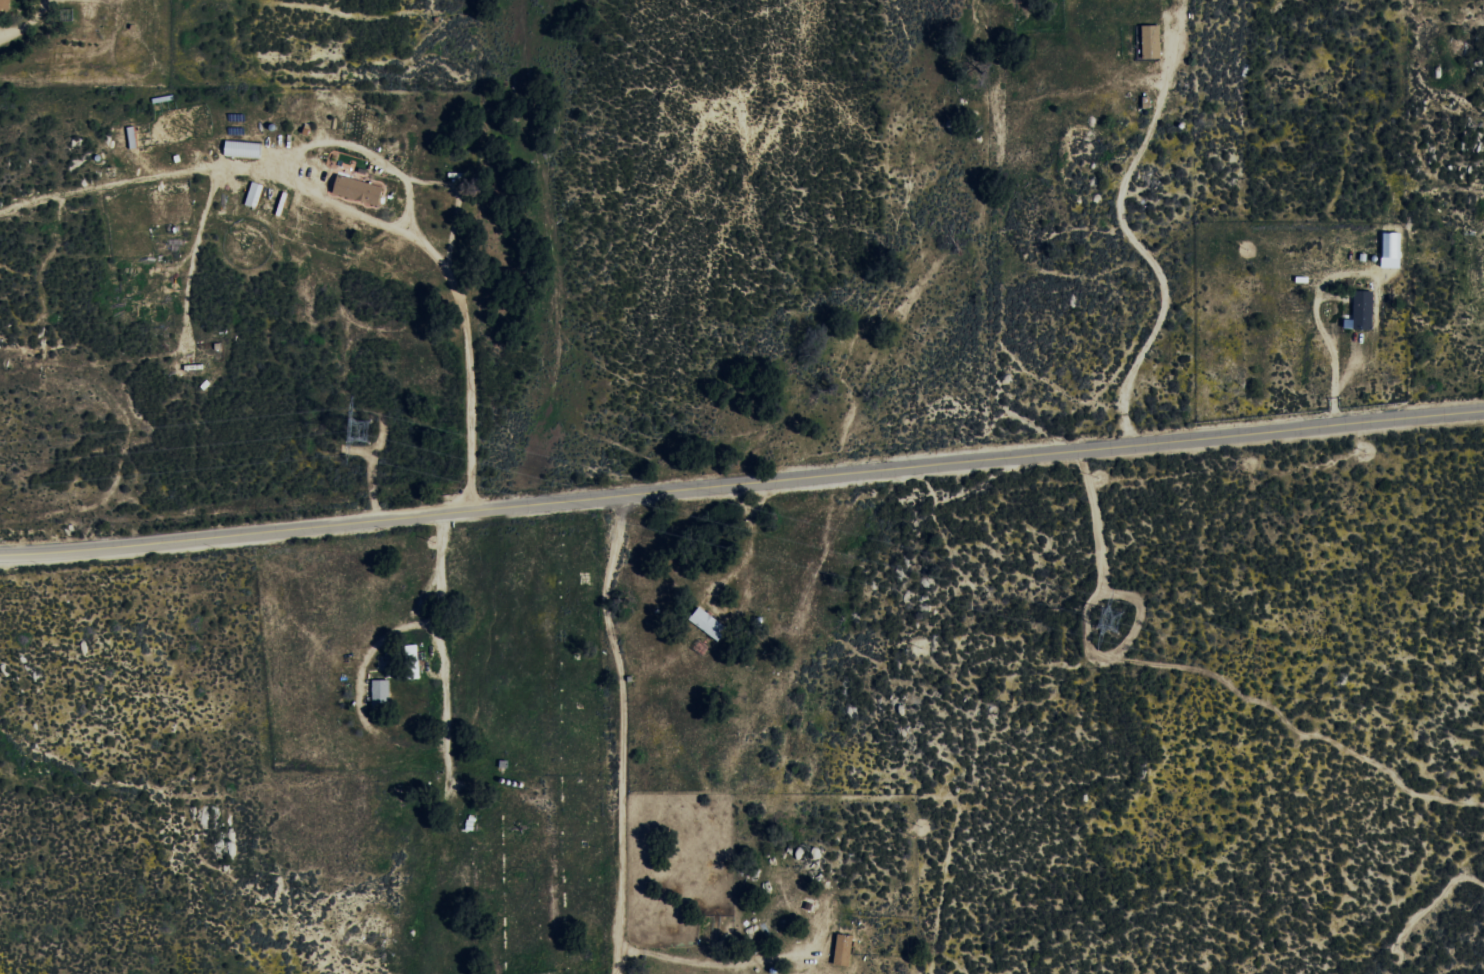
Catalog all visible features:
building: (2, 11)
building: (1151, 42)
building: (358, 190)
building: (254, 195)
building: (1391, 245)
road: (30, 278)
building: (1361, 311)
power tower: (358, 432)
road: (741, 485)
power tower: (1110, 618)
building: (708, 623)
building: (411, 651)
building: (380, 693)
road: (437, 743)
building: (843, 950)

